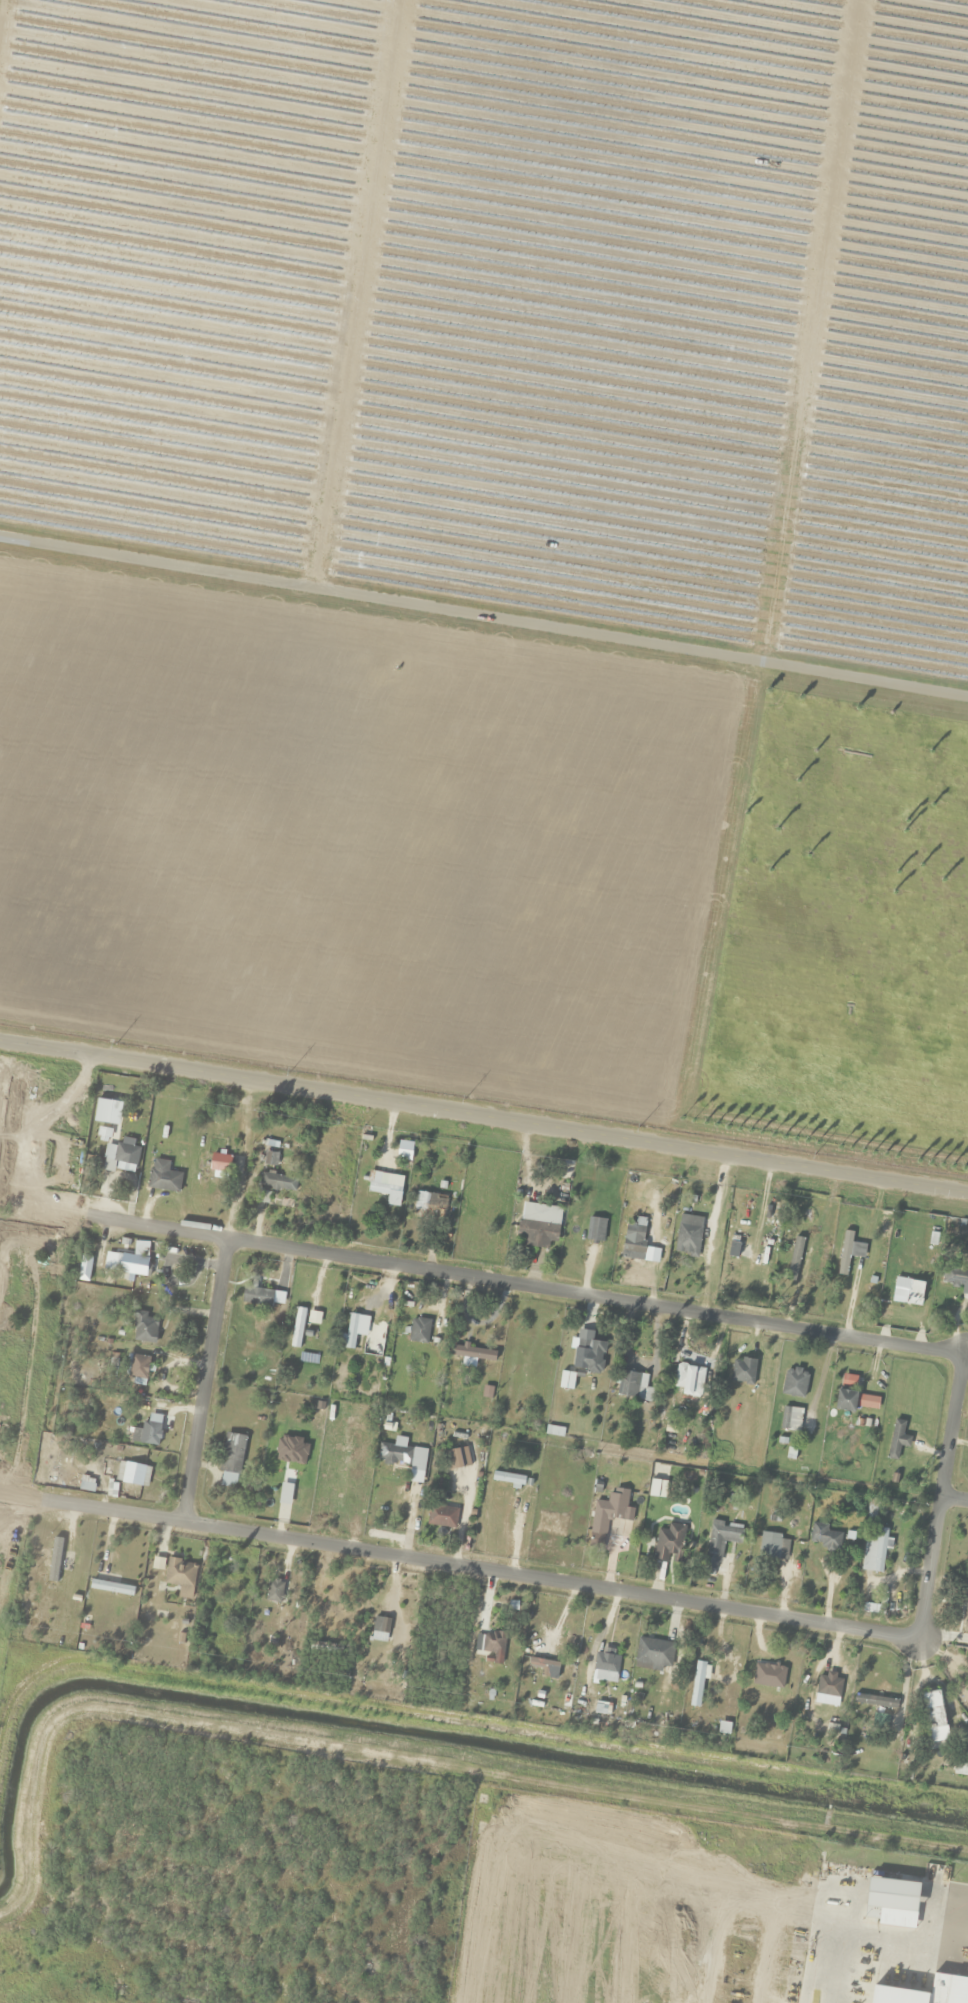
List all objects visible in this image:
railway: (484, 581)
road: (484, 623)
road: (484, 1117)
building: (270, 1159)
building: (220, 1162)
building: (163, 1177)
building: (278, 1182)
building: (430, 1202)
building: (539, 1224)
building: (595, 1229)
building: (688, 1235)
building: (575, 1236)
building: (635, 1236)
building: (801, 1251)
building: (844, 1253)
building: (763, 1260)
building: (133, 1265)
building: (954, 1277)
building: (257, 1297)
road: (670, 1309)
building: (144, 1328)
building: (297, 1328)
building: (419, 1330)
building: (472, 1353)
building: (589, 1356)
building: (524, 1366)
building: (139, 1370)
building: (743, 1371)
building: (689, 1380)
road: (208, 1383)
building: (794, 1383)
building: (630, 1385)
building: (846, 1400)
building: (790, 1419)
building: (144, 1431)
building: (897, 1440)
building: (231, 1453)
building: (395, 1454)
building: (134, 1474)
building: (508, 1479)
building: (455, 1480)
building: (86, 1484)
building: (289, 1492)
road: (955, 1502)
building: (611, 1507)
building: (441, 1517)
building: (825, 1538)
building: (669, 1543)
building: (718, 1543)
building: (773, 1547)
building: (55, 1569)
road: (487, 1572)
building: (275, 1591)
building: (222, 1596)
building: (166, 1597)
building: (966, 1617)
building: (490, 1644)
building: (326, 1647)
building: (654, 1653)
building: (770, 1674)
building: (697, 1684)
building: (604, 1685)
building: (826, 1691)
building: (875, 1702)
building: (933, 1711)
building: (892, 1897)
building: (889, 1978)
building: (927, 1991)

